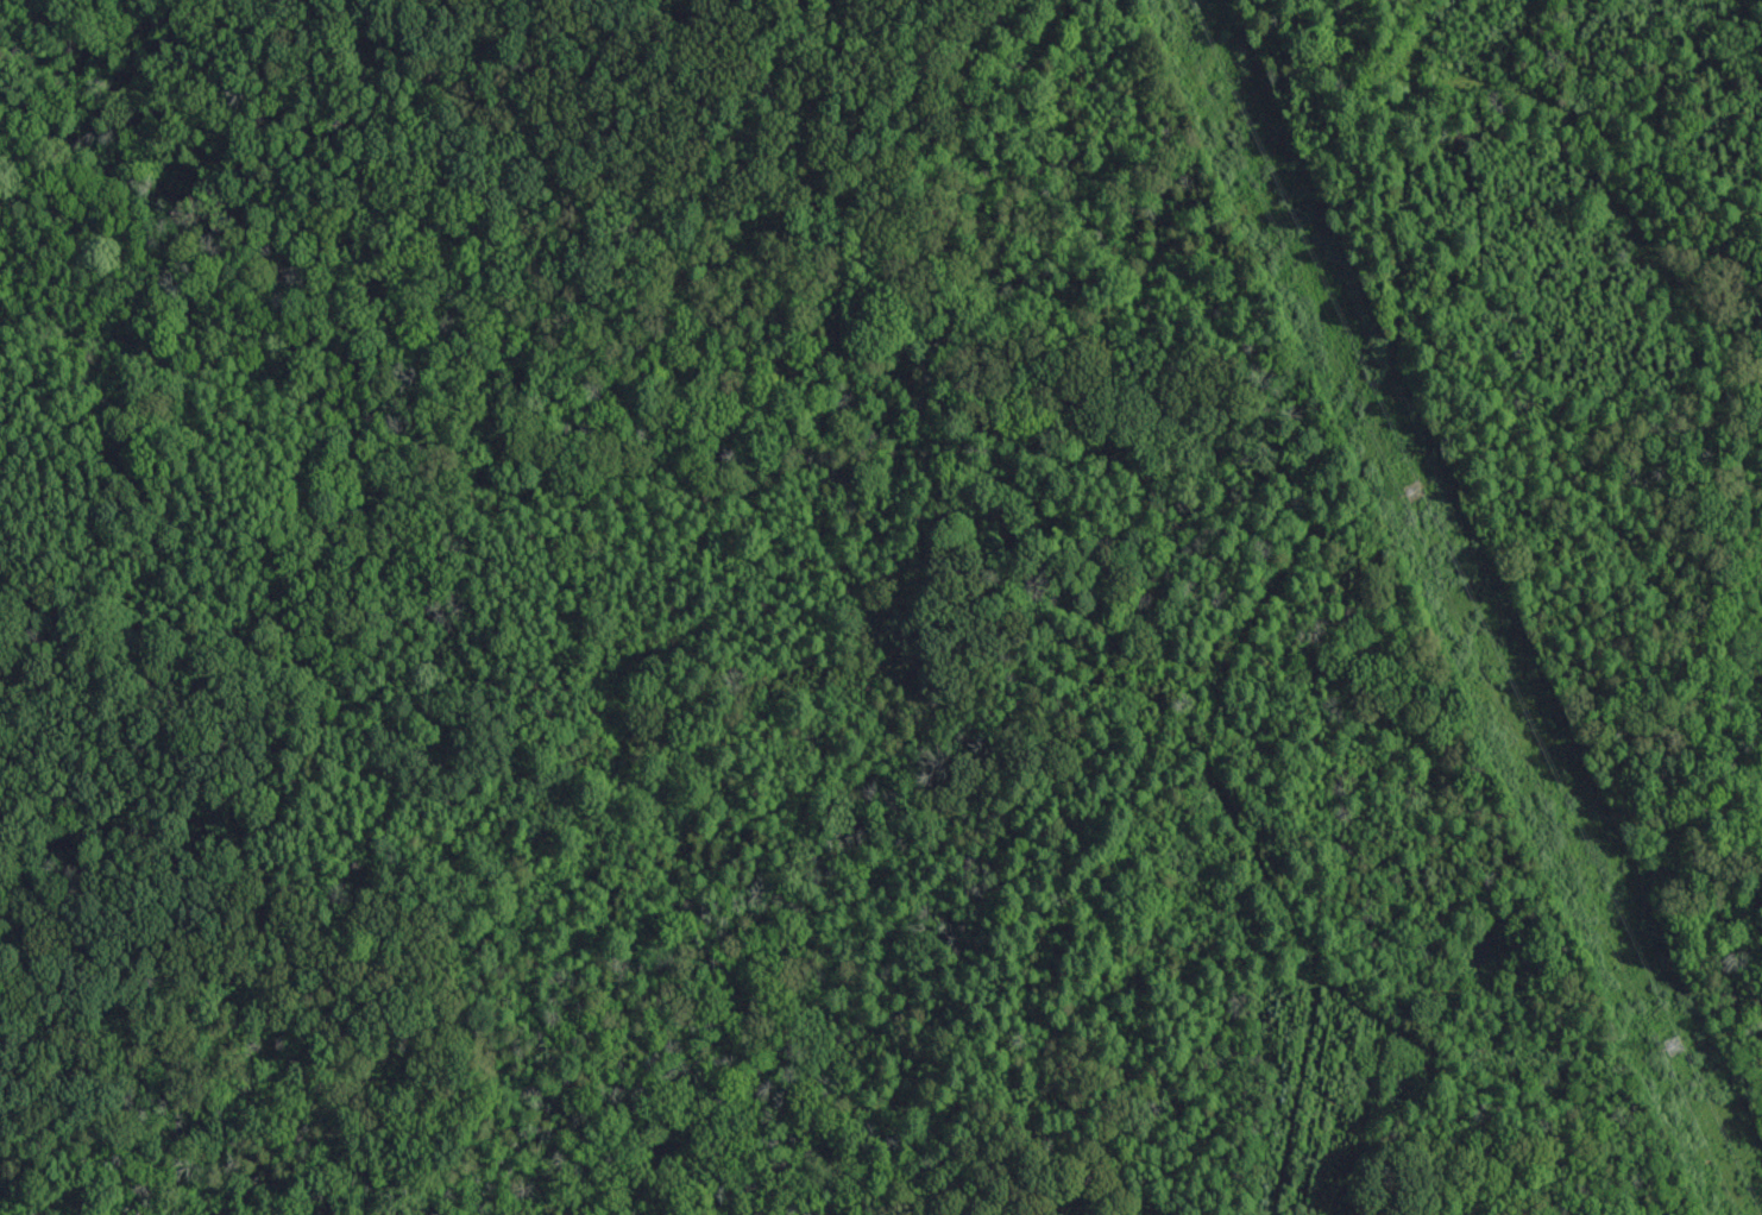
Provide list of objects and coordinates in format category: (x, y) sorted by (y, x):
power tower: (1395, 487)
power tower: (1663, 1037)

